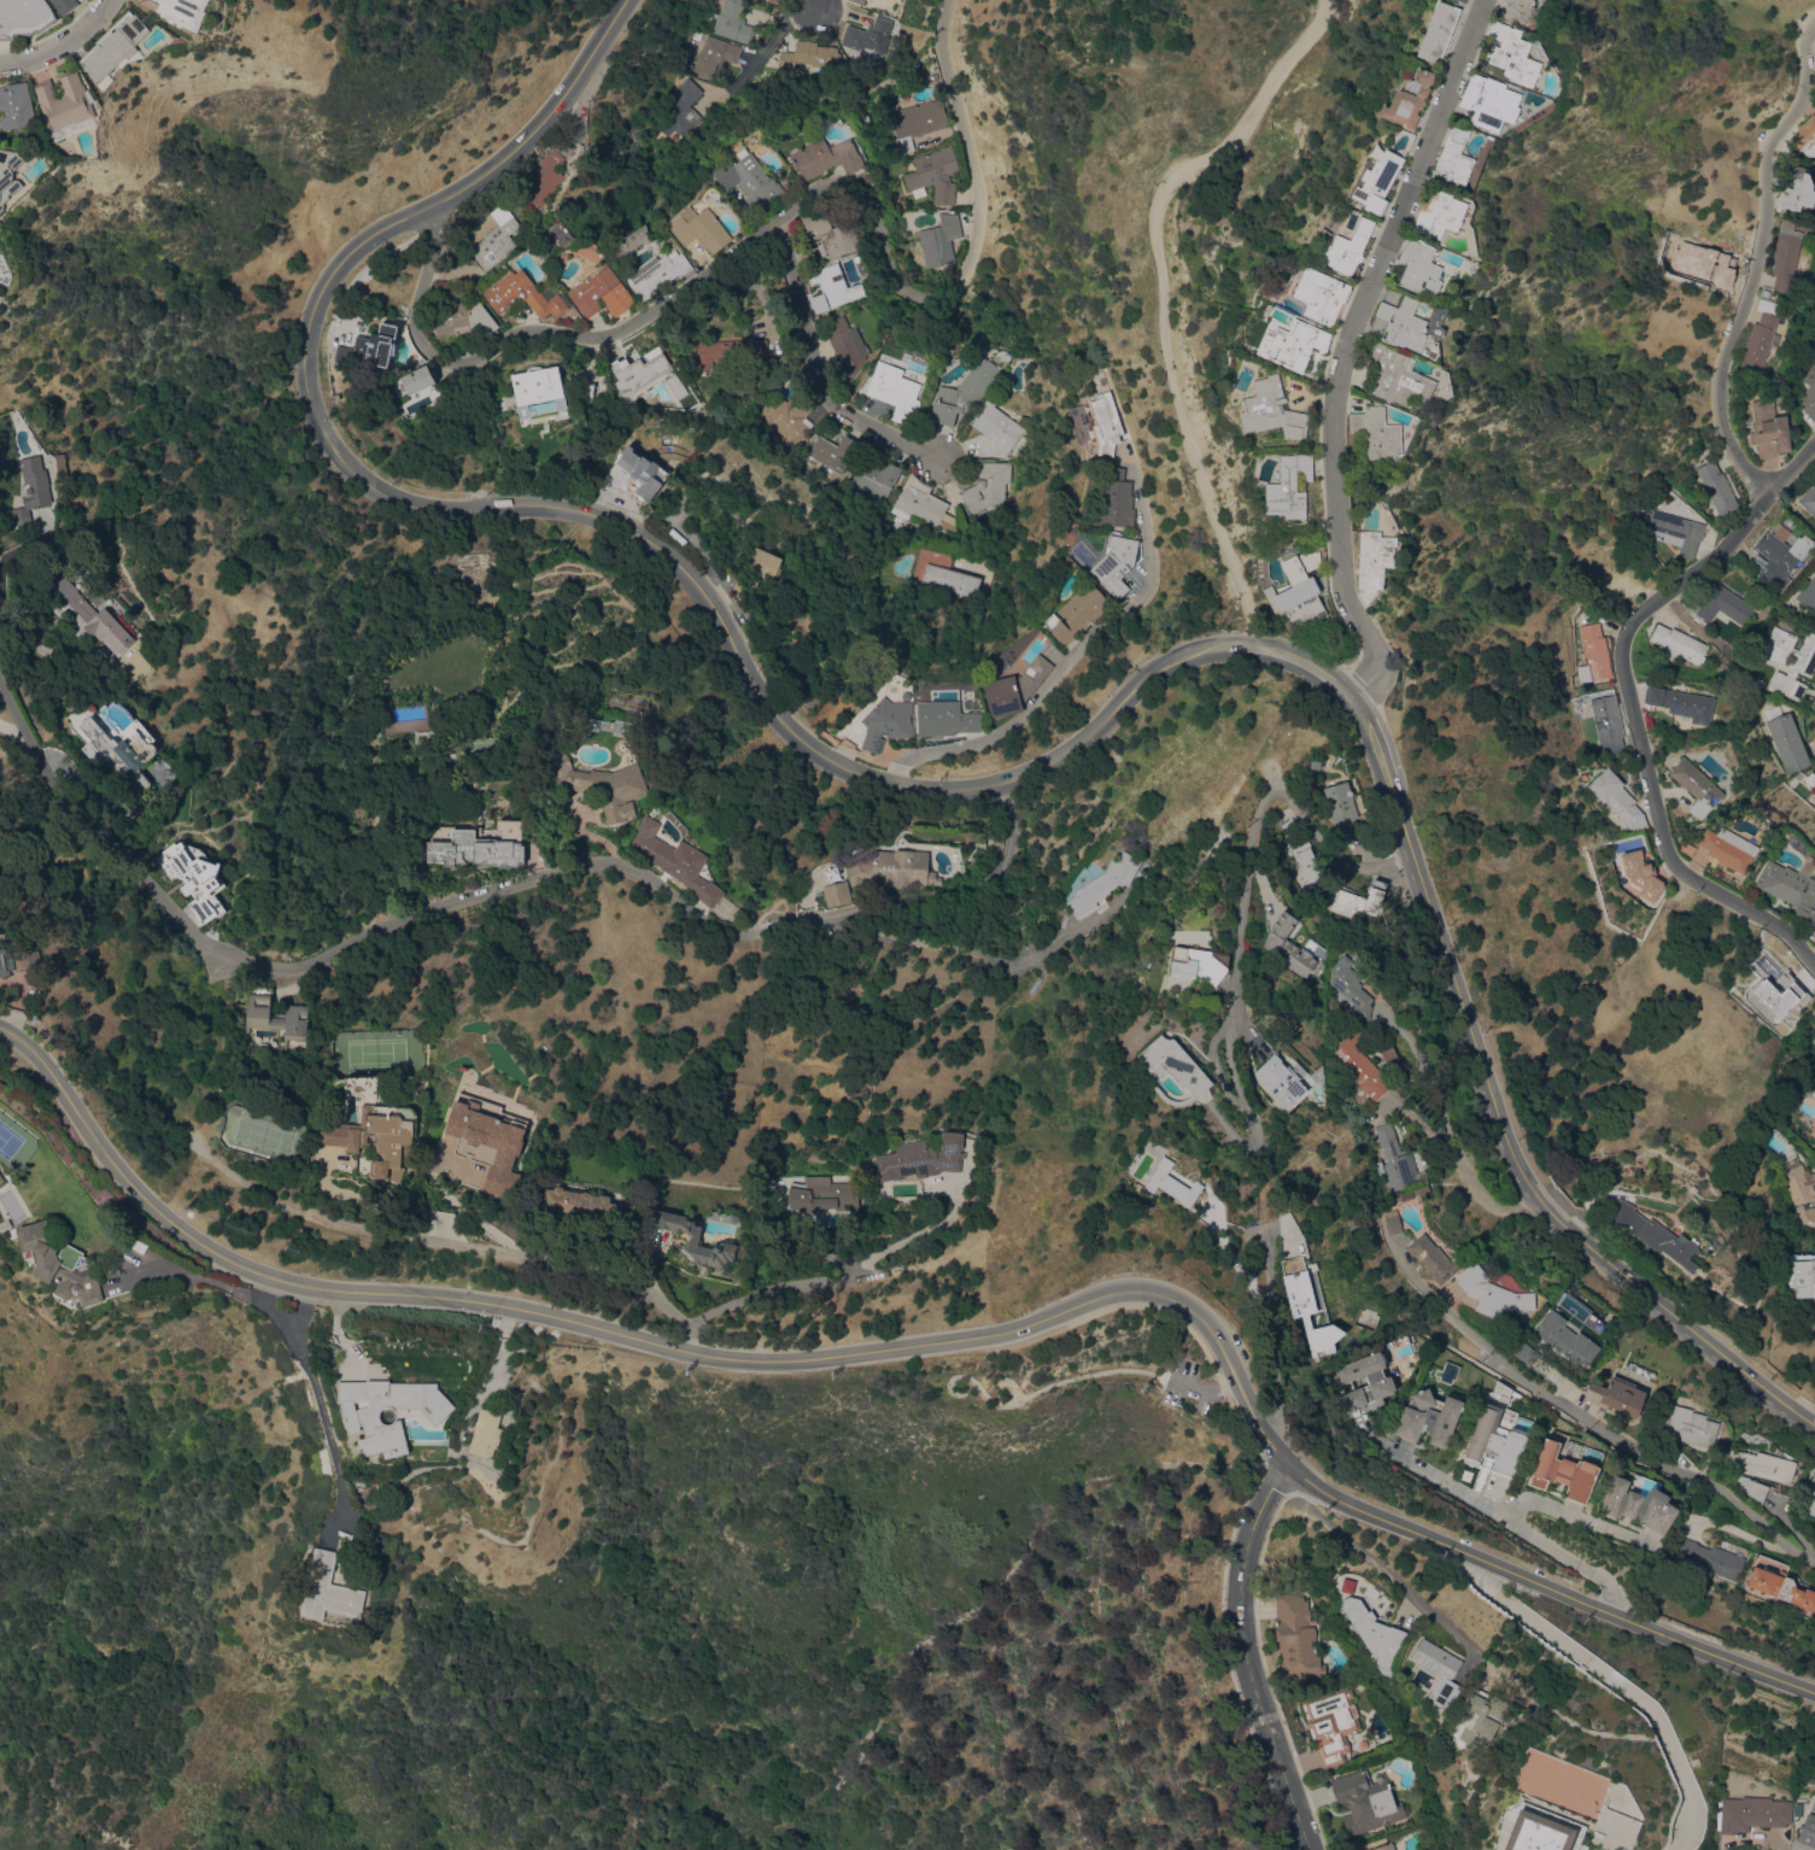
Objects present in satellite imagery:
building: (1462, 0)
building: (859, 1)
building: (65, 5)
road: (818, 7)
building: (177, 10)
building: (1515, 10)
building: (24, 17)
building: (732, 22)
building: (1438, 31)
building: (867, 37)
building: (116, 45)
road: (66, 46)
road: (762, 46)
building: (1509, 54)
building: (714, 55)
building: (809, 55)
building: (66, 100)
building: (1407, 100)
building: (1488, 101)
building: (16, 106)
building: (681, 110)
building: (914, 123)
building: (1805, 136)
building: (826, 157)
building: (1452, 158)
building: (935, 174)
building: (10, 175)
building: (544, 177)
building: (1377, 181)
building: (755, 182)
building: (1797, 188)
building: (1438, 213)
road: (778, 216)
building: (701, 224)
building: (556, 233)
building: (827, 234)
building: (496, 238)
building: (939, 240)
building: (1347, 247)
building: (0, 253)
building: (1785, 256)
building: (1418, 267)
building: (656, 273)
building: (832, 287)
building: (1764, 292)
building: (601, 293)
building: (1321, 293)
building: (522, 294)
road: (1166, 298)
building: (463, 320)
building: (1401, 323)
building: (1761, 335)
building: (371, 346)
building: (847, 346)
building: (1294, 347)
road: (1343, 349)
building: (715, 351)
building: (639, 370)
road: (816, 370)
building: (1395, 376)
building: (417, 379)
building: (538, 385)
building: (677, 386)
building: (894, 390)
building: (965, 391)
building: (1809, 392)
building: (584, 393)
building: (1272, 409)
building: (786, 414)
building: (1106, 423)
building: (997, 428)
building: (1769, 429)
building: (1376, 432)
building: (1019, 450)
building: (831, 451)
building: (643, 470)
road: (1794, 473)
building: (877, 480)
building: (986, 485)
building: (1289, 487)
building: (31, 488)
building: (1717, 488)
building: (1117, 498)
building: (1809, 500)
building: (921, 504)
building: (1676, 531)
road: (1735, 532)
building: (1779, 555)
building: (1374, 561)
building: (1116, 562)
building: (756, 572)
building: (943, 573)
building: (1292, 585)
building: (1808, 595)
building: (1725, 608)
building: (1077, 611)
building: (94, 617)
building: (1678, 643)
building: (1593, 654)
road: (1068, 657)
building: (1790, 660)
building: (1014, 687)
building: (1682, 702)
building: (944, 718)
building: (886, 722)
building: (1608, 722)
building: (404, 725)
road: (11, 728)
building: (121, 737)
building: (1787, 742)
building: (1810, 778)
building: (602, 784)
building: (1696, 785)
road: (948, 790)
building: (1617, 797)
building: (1341, 806)
building: (1290, 826)
building: (473, 847)
building: (1728, 848)
building: (677, 860)
building: (1306, 862)
building: (892, 868)
building: (1640, 873)
building: (195, 877)
building: (1103, 883)
road: (1247, 884)
building: (1790, 889)
road: (493, 891)
building: (837, 894)
building: (1364, 897)
building: (1288, 944)
building: (1814, 944)
road: (964, 948)
building: (18, 960)
building: (1199, 964)
building: (1351, 987)
building: (1776, 994)
building: (276, 1017)
building: (1814, 1025)
building: (1172, 1065)
building: (1362, 1066)
building: (1282, 1079)
building: (1813, 1126)
road: (1446, 1128)
building: (376, 1136)
building: (491, 1138)
building: (923, 1158)
building: (1398, 1160)
building: (1, 1177)
building: (1181, 1189)
building: (1802, 1190)
building: (822, 1194)
building: (582, 1205)
building: (1222, 1207)
building: (1393, 1222)
building: (6, 1224)
building: (1653, 1233)
building: (698, 1241)
building: (1709, 1246)
road: (488, 1249)
building: (1433, 1258)
building: (60, 1263)
building: (702, 1269)
building: (1802, 1274)
road: (827, 1276)
road: (213, 1281)
building: (1299, 1286)
building: (1492, 1293)
building: (1567, 1339)
road: (926, 1342)
building: (1526, 1352)
road: (491, 1374)
building: (1380, 1380)
road: (312, 1383)
parking lot: (1185, 1386)
road: (1049, 1387)
building: (1501, 1388)
road: (1201, 1391)
building: (1616, 1395)
building: (1430, 1417)
building: (363, 1418)
building: (1692, 1425)
building: (487, 1433)
building: (1499, 1439)
road: (1628, 1446)
building: (1762, 1464)
building: (1568, 1468)
building: (1756, 1489)
building: (1810, 1493)
road: (1465, 1494)
building: (1639, 1505)
road: (1574, 1515)
road: (1747, 1534)
building: (1712, 1558)
road: (1383, 1569)
road: (1603, 1582)
building: (1781, 1587)
building: (332, 1588)
building: (1814, 1612)
building: (1376, 1632)
building: (1295, 1635)
road: (1247, 1657)
building: (1439, 1670)
road: (1621, 1685)
building: (1483, 1719)
building: (1331, 1723)
building: (1363, 1744)
building: (1366, 1801)
building: (1796, 1810)
building: (1751, 1813)
building: (1542, 1831)
building: (1807, 1831)
building: (1383, 1846)

